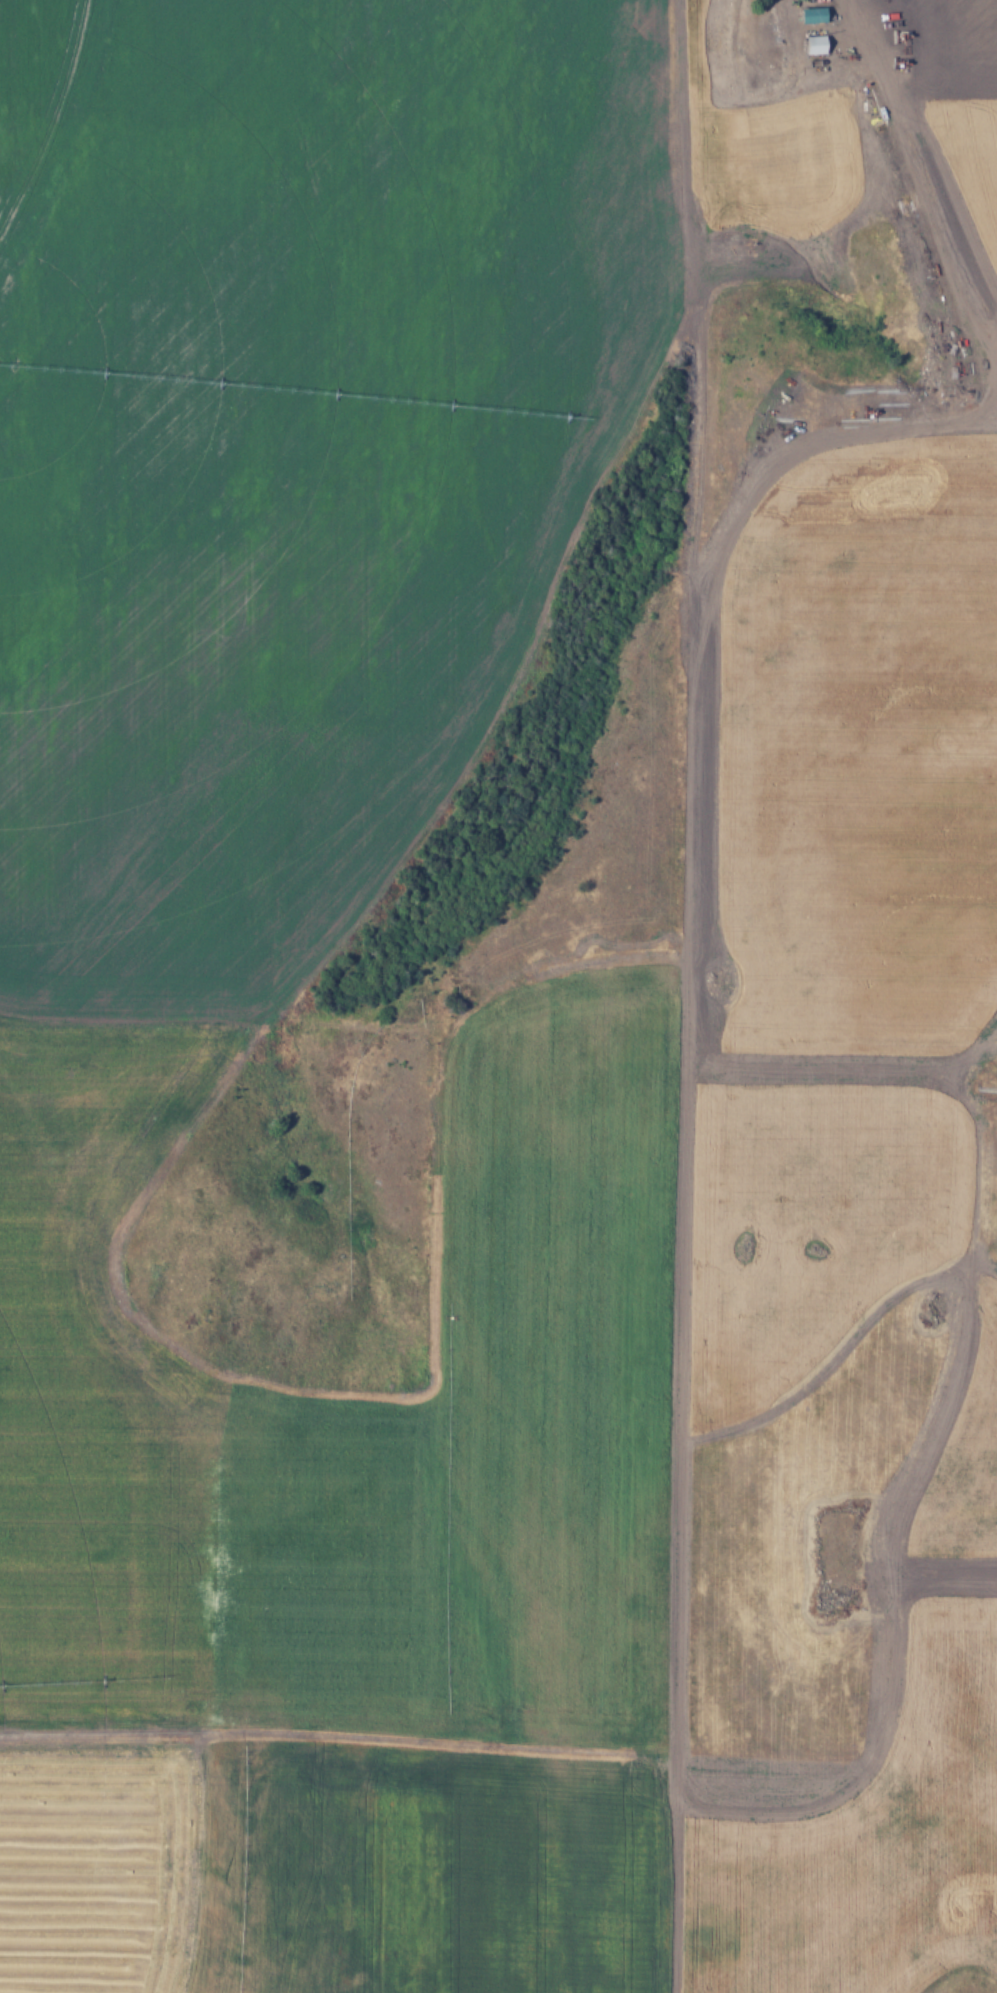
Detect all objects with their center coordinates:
building: (812, 12)
building: (814, 43)

